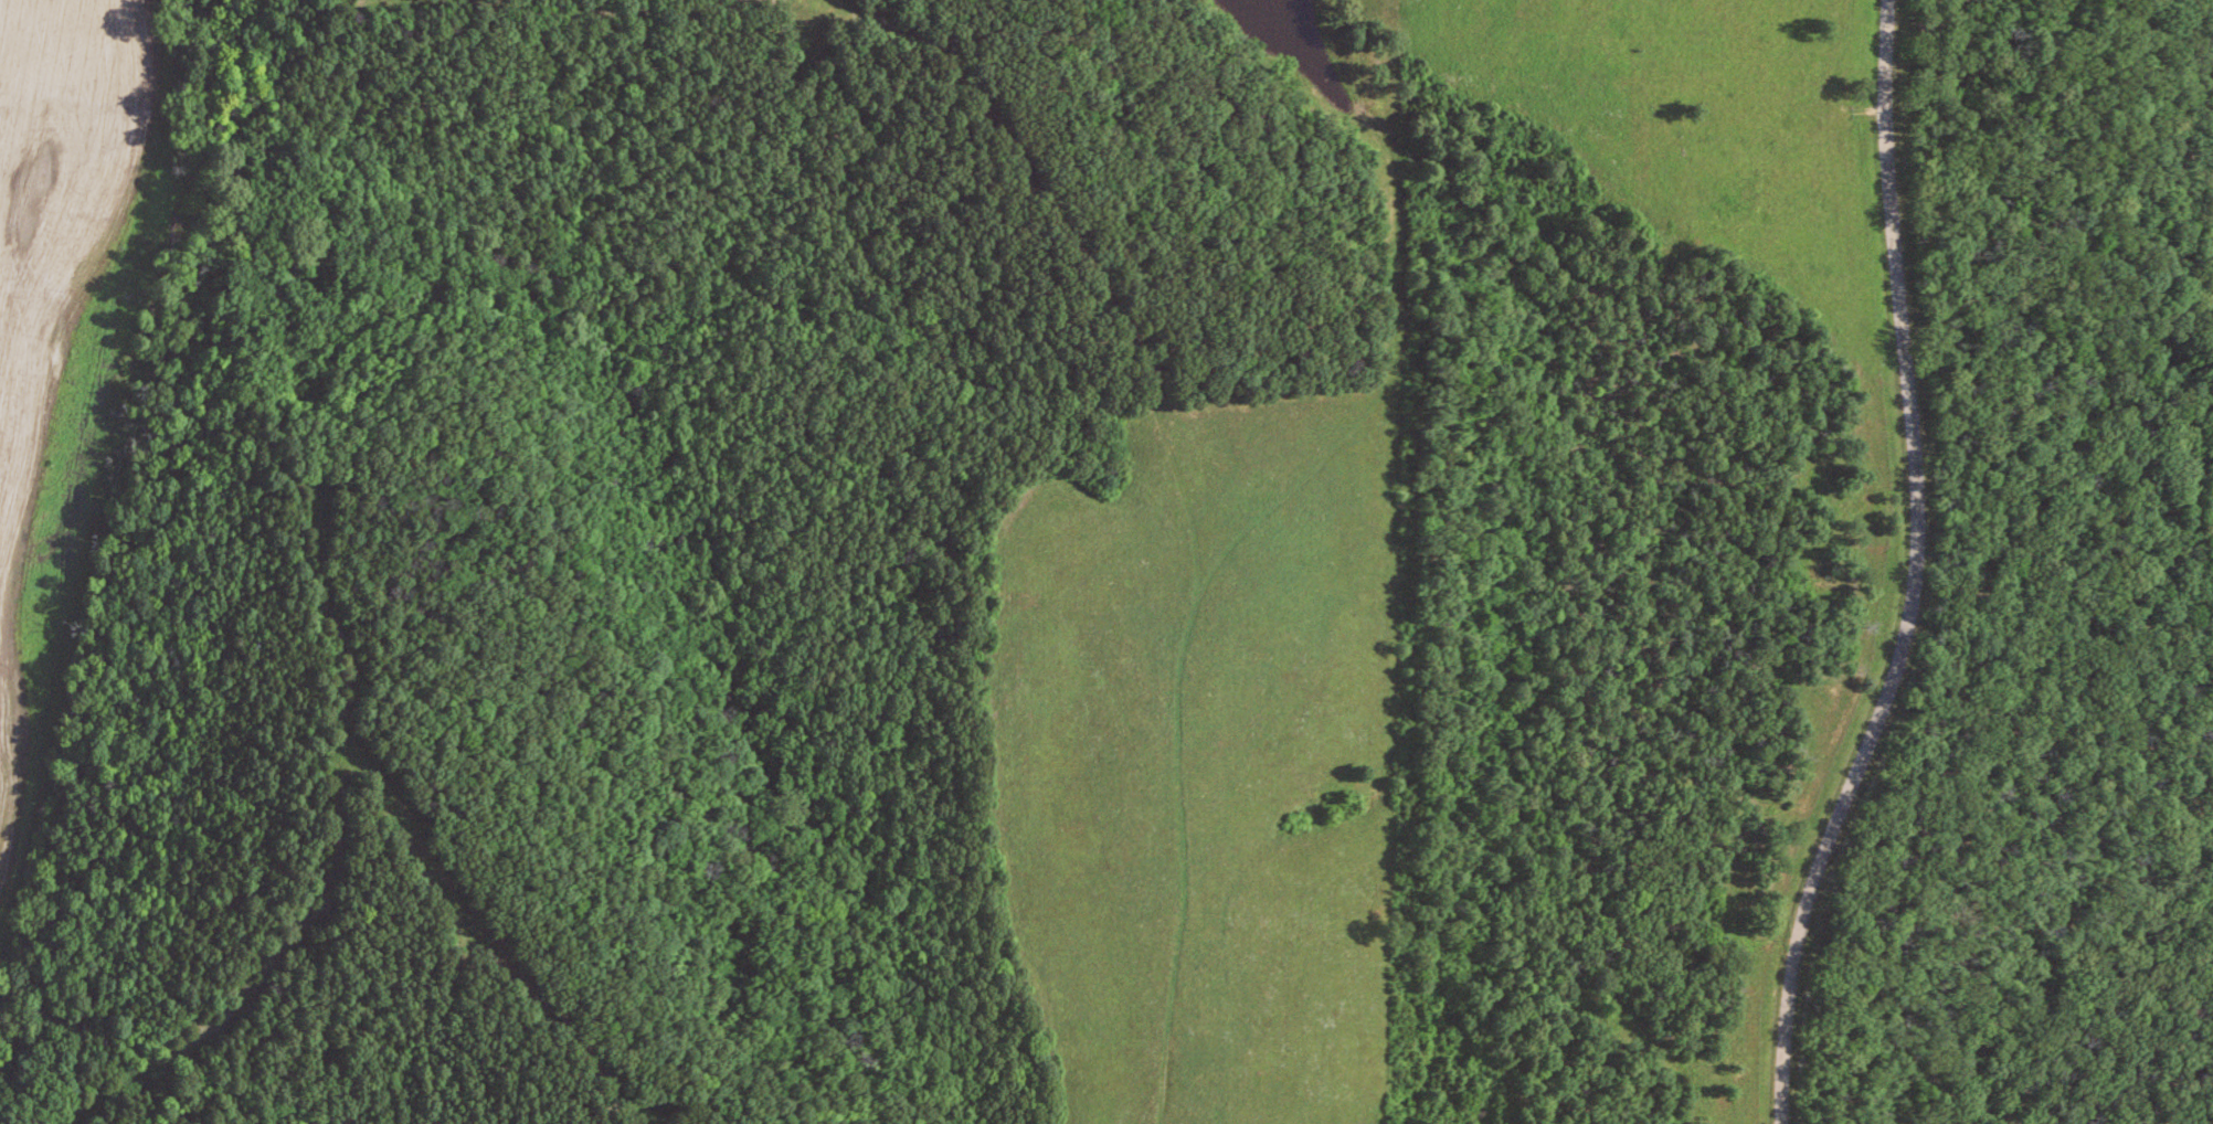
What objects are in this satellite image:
road: (1918, 571)

